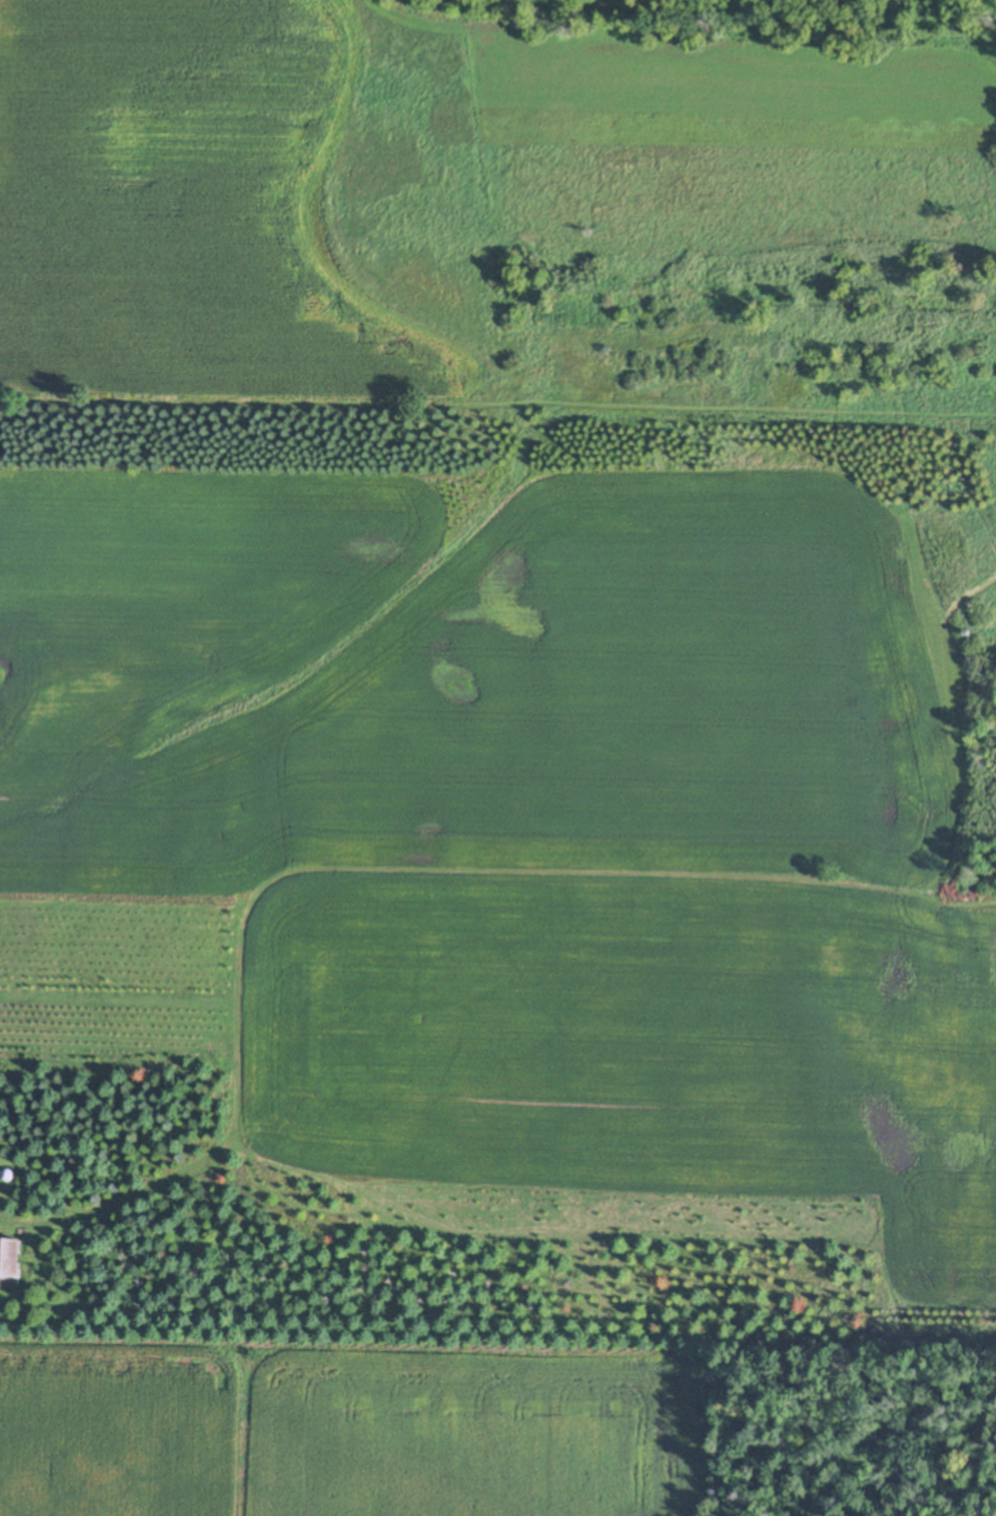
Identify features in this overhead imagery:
crop: (194, 210)
building: (7, 1169)
building: (9, 1264)
crop: (335, 1427)

